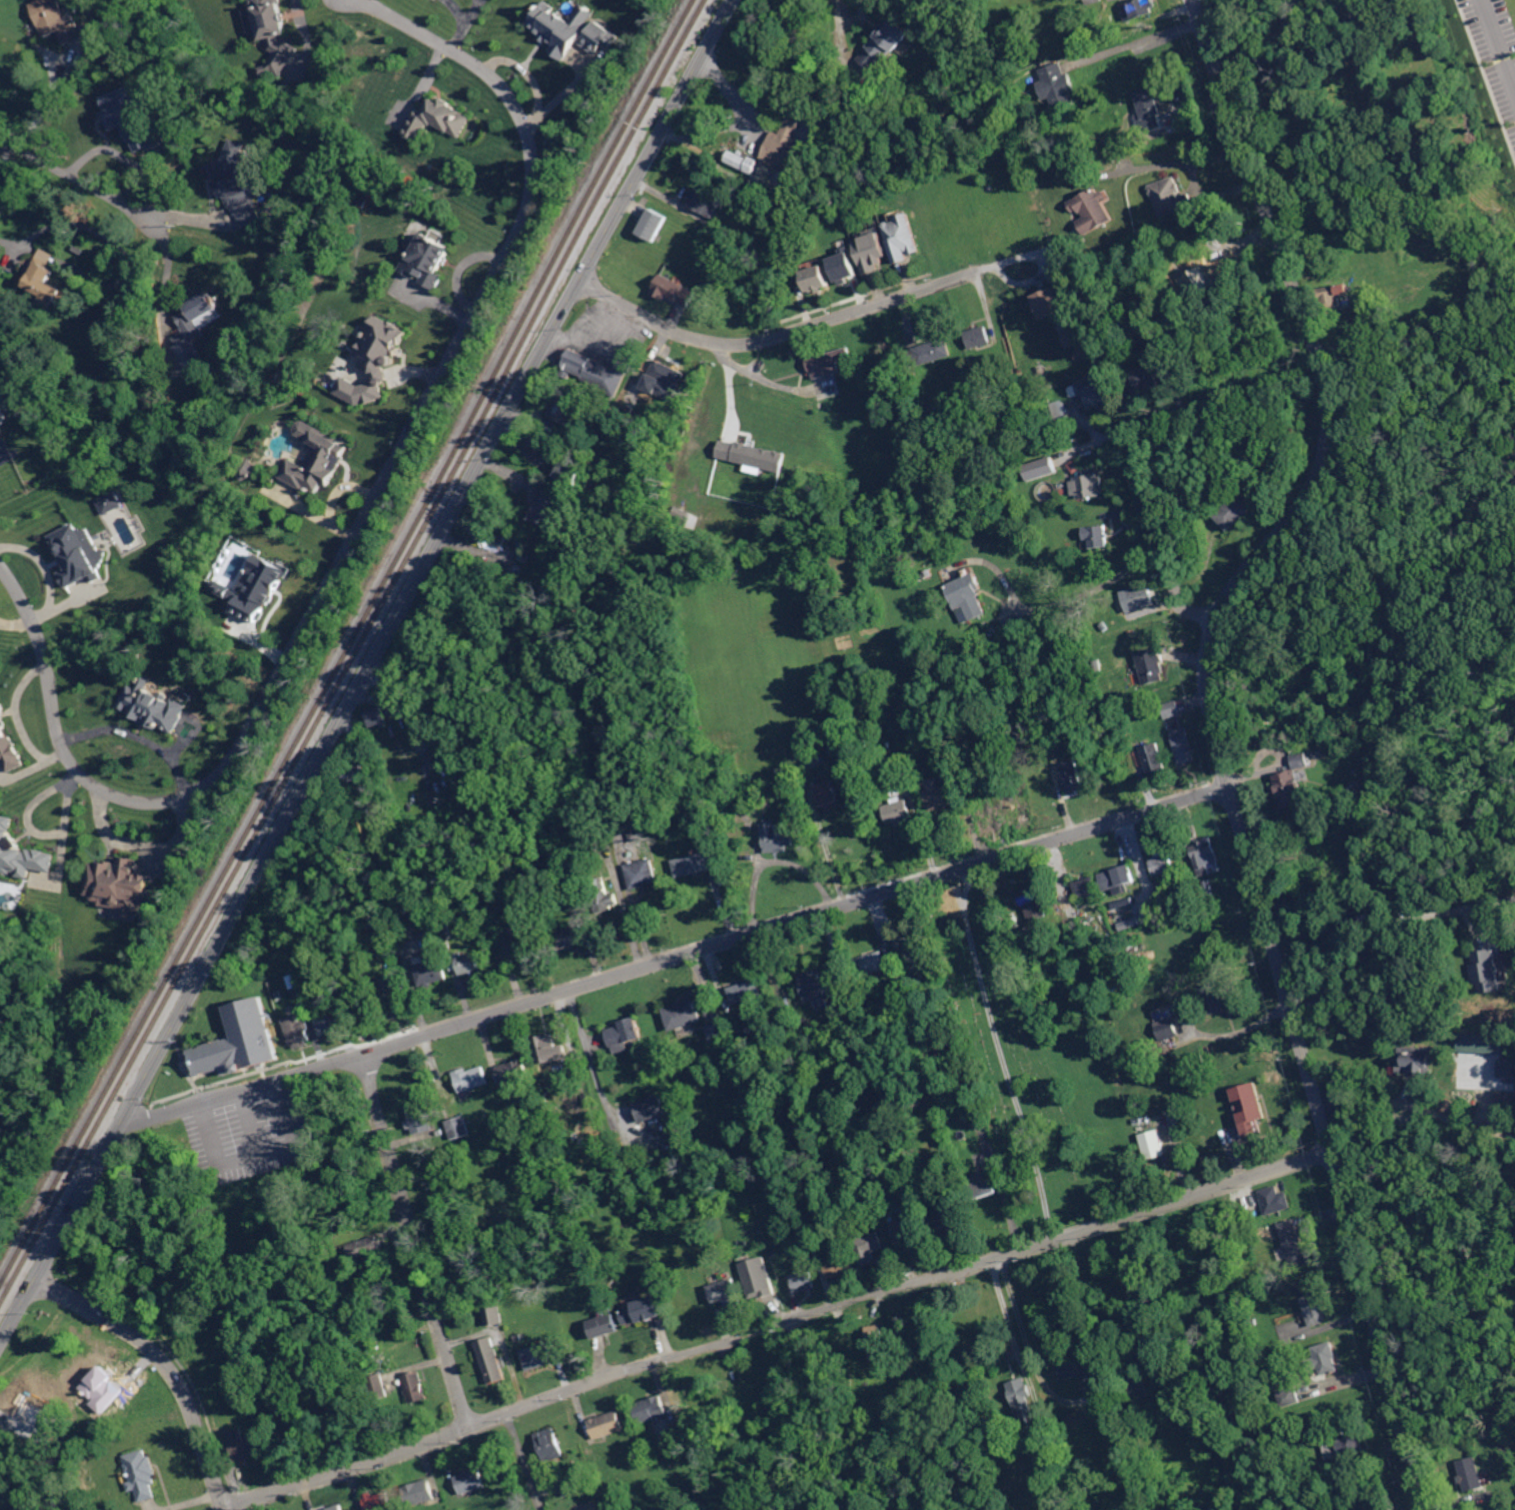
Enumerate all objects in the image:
building: (1102, 0)
building: (1092, 1)
road: (850, 5)
building: (1139, 8)
building: (58, 20)
road: (462, 23)
building: (572, 31)
building: (273, 33)
road: (28, 39)
building: (889, 40)
road: (1500, 40)
road: (1136, 42)
building: (1163, 55)
building: (1141, 67)
building: (1012, 82)
building: (1058, 85)
building: (1149, 109)
building: (439, 120)
road: (737, 121)
building: (139, 122)
road: (2, 138)
building: (786, 143)
building: (744, 163)
road: (1178, 163)
building: (1082, 171)
road: (76, 176)
building: (11, 187)
building: (236, 188)
building: (769, 192)
building: (1170, 197)
building: (706, 202)
building: (1093, 211)
building: (654, 225)
building: (902, 239)
road: (6, 242)
road: (1237, 247)
building: (82, 249)
building: (871, 253)
building: (429, 259)
building: (1158, 261)
building: (843, 264)
building: (48, 279)
building: (817, 279)
road: (167, 289)
building: (674, 291)
building: (1332, 297)
building: (1050, 301)
building: (1183, 322)
building: (196, 328)
building: (1165, 329)
road: (785, 334)
building: (979, 336)
building: (1074, 336)
building: (930, 352)
building: (373, 361)
building: (829, 361)
building: (595, 373)
building: (1146, 377)
building: (664, 381)
building: (1051, 384)
building: (1095, 391)
building: (1060, 407)
building: (567, 410)
building: (1066, 423)
building: (662, 427)
building: (836, 445)
building: (752, 455)
building: (317, 460)
building: (1045, 465)
building: (249, 469)
building: (572, 473)
building: (1089, 484)
building: (614, 490)
building: (110, 502)
building: (545, 506)
building: (1233, 513)
building: (491, 533)
road: (351, 536)
building: (1097, 536)
road: (1163, 538)
building: (79, 554)
road: (48, 573)
building: (928, 573)
building: (918, 578)
building: (258, 587)
building: (226, 590)
road: (1090, 590)
building: (1143, 595)
building: (968, 596)
building: (1118, 621)
road: (18, 625)
railway: (351, 646)
railway: (356, 654)
building: (1152, 666)
road: (367, 673)
building: (940, 695)
building: (940, 703)
building: (155, 707)
building: (1173, 708)
road: (18, 716)
building: (378, 716)
building: (1342, 721)
building: (865, 730)
road: (140, 737)
road: (1218, 738)
building: (9, 743)
building: (944, 743)
building: (805, 744)
building: (1184, 746)
building: (1049, 747)
building: (1154, 758)
building: (1301, 761)
building: (356, 771)
building: (1073, 775)
building: (1291, 788)
building: (831, 794)
building: (939, 794)
building: (761, 797)
building: (899, 810)
building: (640, 815)
building: (599, 831)
building: (638, 835)
building: (778, 836)
road: (136, 847)
building: (1361, 849)
building: (21, 854)
building: (1204, 854)
building: (1163, 862)
building: (695, 863)
building: (642, 872)
building: (1119, 878)
building: (119, 886)
building: (1086, 886)
building: (604, 895)
building: (1032, 901)
building: (1401, 905)
road: (796, 920)
building: (1076, 927)
building: (527, 929)
building: (446, 930)
building: (570, 938)
road: (1378, 948)
building: (916, 954)
building: (1025, 956)
building: (465, 963)
building: (873, 963)
building: (431, 972)
building: (1488, 972)
building: (324, 977)
building: (295, 981)
building: (748, 990)
building: (820, 990)
building: (279, 993)
building: (1214, 997)
building: (392, 999)
building: (856, 1002)
building: (683, 1013)
building: (330, 1021)
building: (1167, 1022)
building: (798, 1027)
building: (298, 1030)
building: (718, 1034)
building: (624, 1035)
building: (1484, 1045)
building: (550, 1047)
building: (216, 1054)
road: (1007, 1054)
building: (1417, 1060)
building: (1507, 1068)
building: (514, 1071)
park: (1017, 1071)
building: (472, 1079)
road: (245, 1088)
road: (1401, 1101)
building: (1251, 1107)
building: (651, 1109)
building: (980, 1117)
building: (420, 1118)
building: (459, 1127)
building: (441, 1132)
building: (602, 1132)
building: (1153, 1145)
building: (984, 1183)
building: (1276, 1199)
building: (948, 1218)
building: (909, 1231)
road: (416, 1239)
road: (1055, 1239)
building: (1294, 1243)
building: (365, 1248)
building: (868, 1248)
building: (841, 1264)
building: (761, 1280)
building: (803, 1282)
building: (614, 1293)
building: (726, 1294)
building: (1315, 1309)
building: (642, 1311)
road: (1005, 1311)
building: (493, 1317)
building: (1253, 1322)
building: (605, 1326)
road: (761, 1329)
building: (519, 1338)
road: (1027, 1341)
building: (878, 1344)
building: (544, 1354)
building: (1327, 1357)
building: (492, 1361)
road: (168, 1364)
building: (1076, 1368)
building: (1136, 1384)
building: (379, 1386)
building: (417, 1386)
building: (1106, 1395)
building: (1289, 1395)
building: (1022, 1399)
building: (653, 1408)
road: (484, 1421)
building: (607, 1424)
building: (1009, 1426)
building: (267, 1427)
building: (244, 1445)
building: (1345, 1445)
building: (552, 1446)
building: (1052, 1460)
road: (525, 1461)
building: (1471, 1473)
building: (141, 1474)
building: (585, 1476)
building: (471, 1481)
building: (1230, 1484)
building: (572, 1486)
building: (420, 1493)
building: (379, 1502)
building: (1303, 1504)
building: (28, 1506)
building: (337, 1507)
building: (14, 1509)
building: (1368, 1509)

